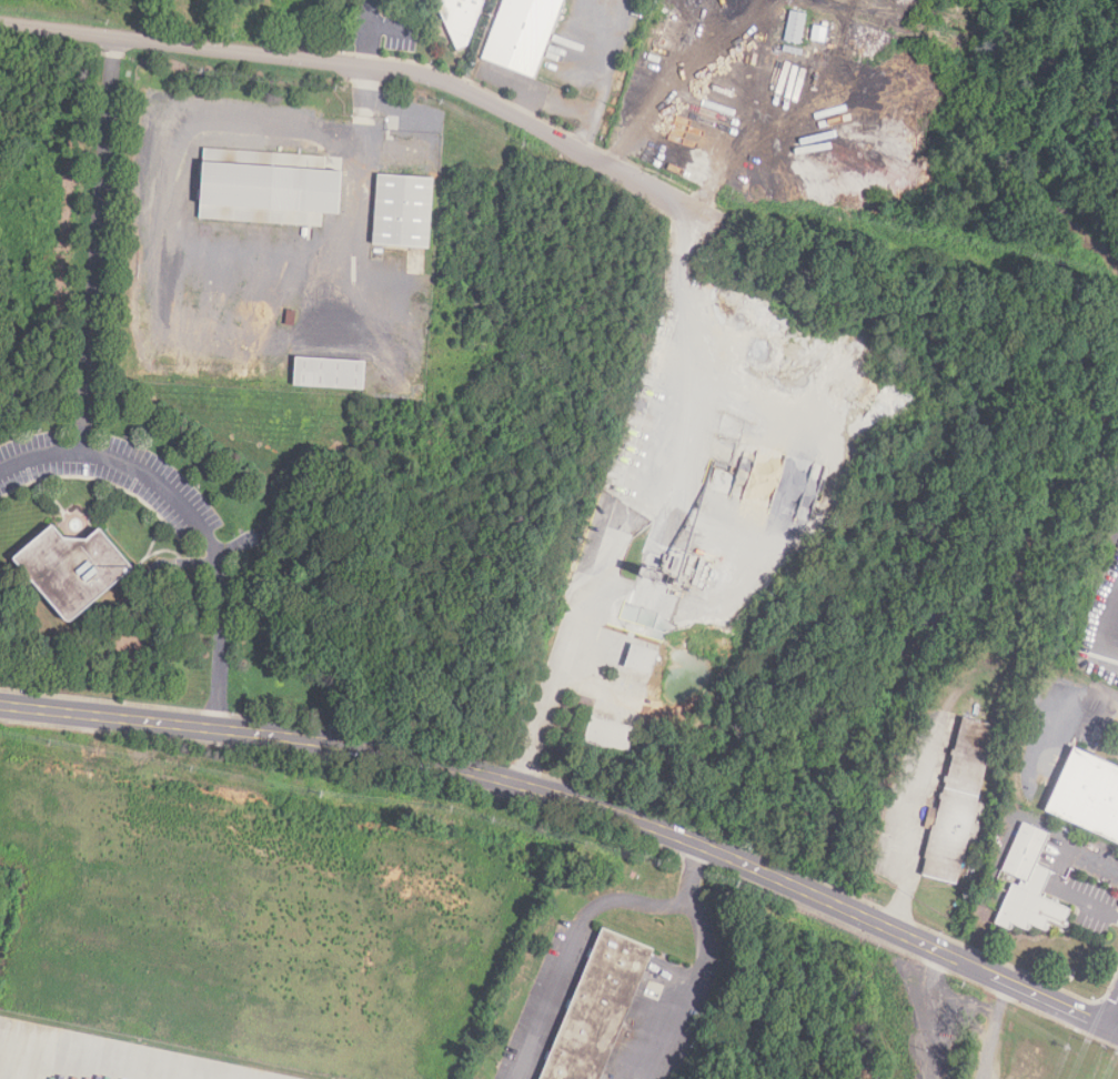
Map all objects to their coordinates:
building: (303, 4)
building: (460, 19)
building: (795, 28)
building: (522, 34)
road: (605, 56)
road: (319, 61)
building: (653, 68)
road: (675, 82)
road: (573, 103)
road: (352, 168)
building: (268, 189)
road: (661, 192)
building: (403, 212)
road: (92, 245)
road: (681, 322)
building: (330, 375)
road: (195, 516)
building: (72, 571)
building: (697, 586)
road: (1106, 626)
building: (645, 655)
road: (556, 675)
building: (616, 730)
road: (925, 796)
building: (1088, 796)
building: (959, 799)
road: (577, 803)
road: (695, 877)
building: (1029, 887)
road: (894, 907)
road: (575, 950)
road: (691, 994)
building: (598, 1009)
road: (930, 1014)
road: (1114, 1019)
road: (995, 1030)

